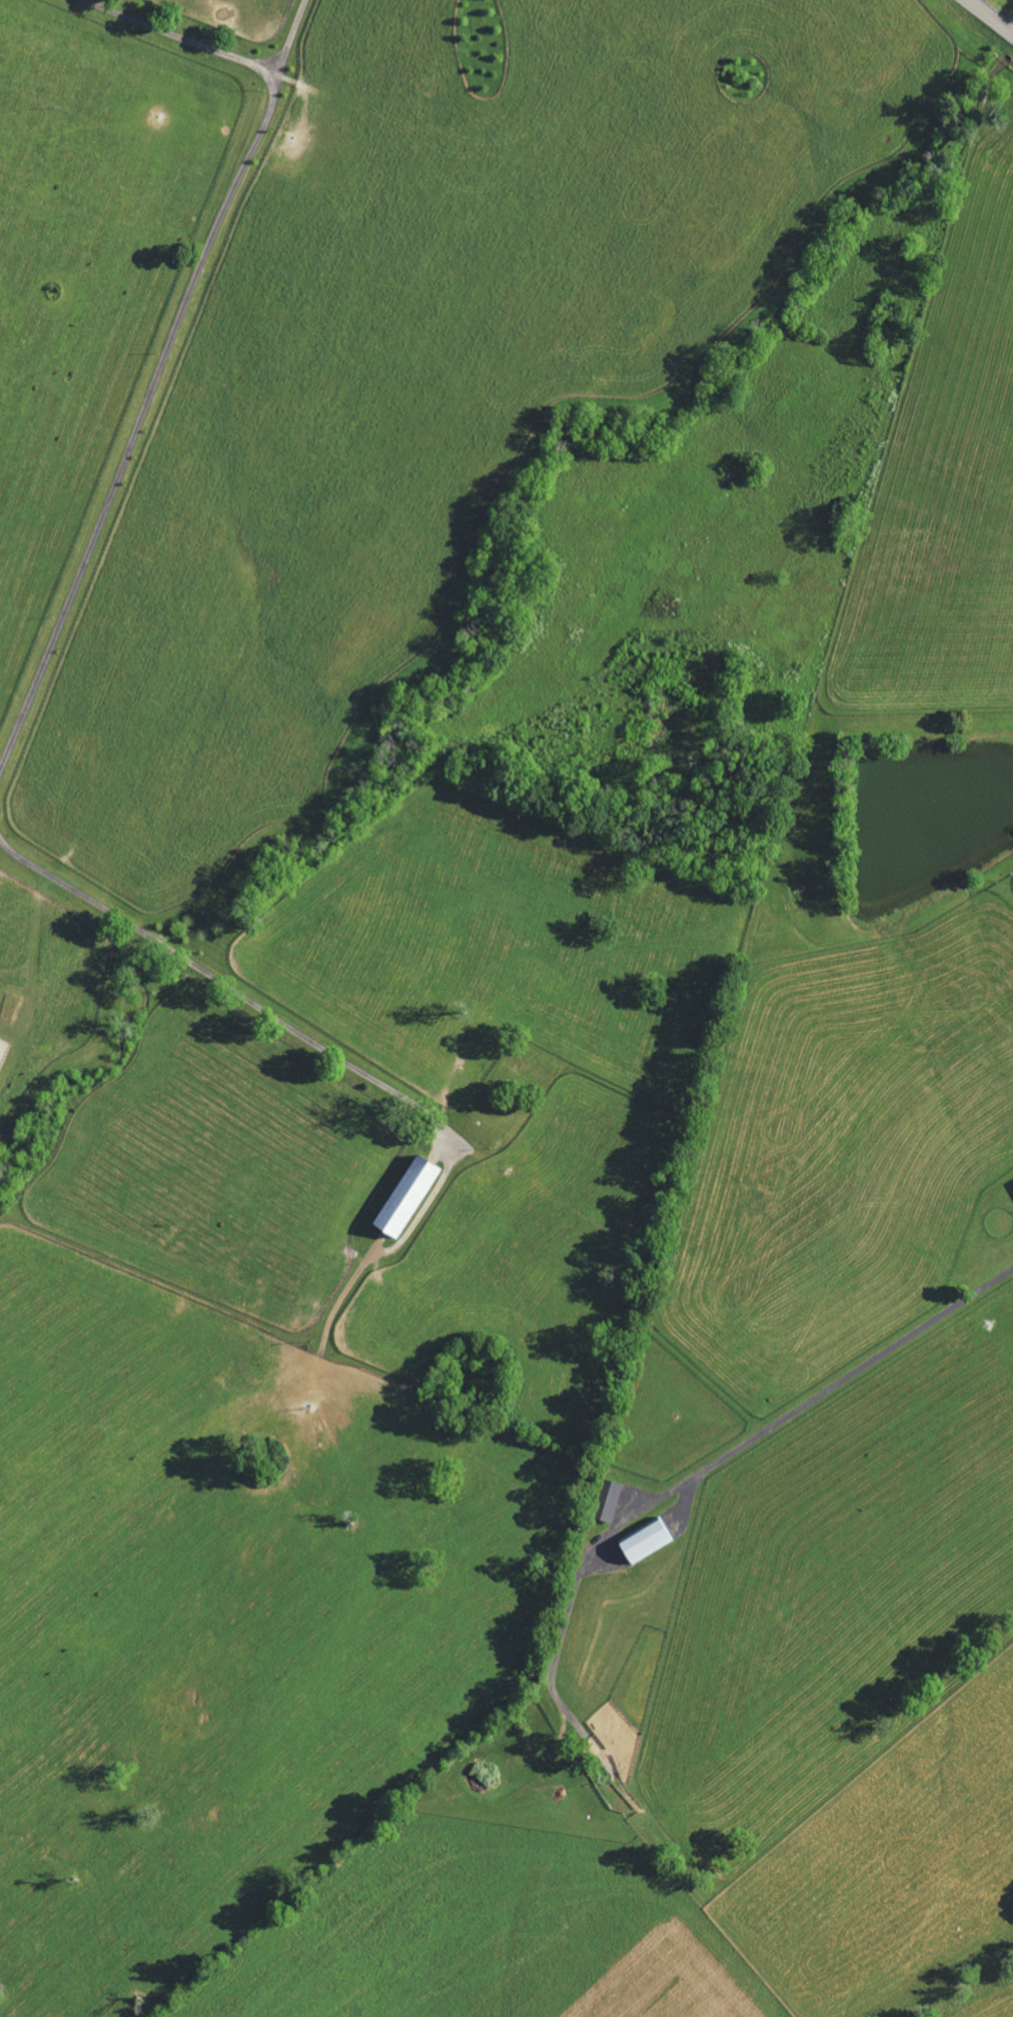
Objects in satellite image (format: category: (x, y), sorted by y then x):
road: (990, 17)
road: (190, 35)
road: (233, 994)
building: (409, 1197)
road: (716, 1466)
building: (611, 1502)
building: (647, 1541)

